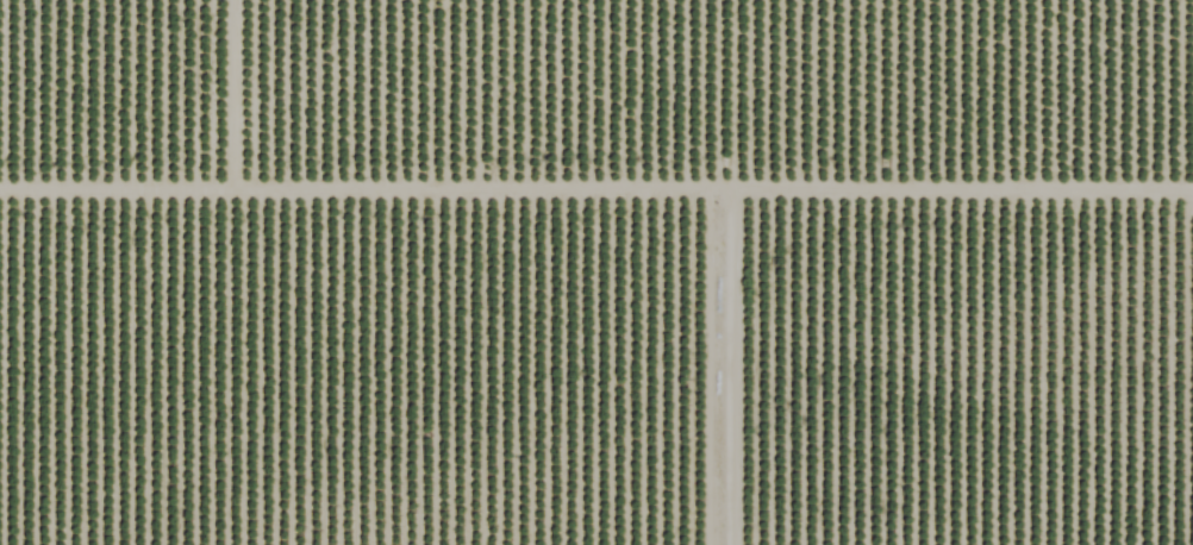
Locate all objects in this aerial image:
crop: (596, 272)

